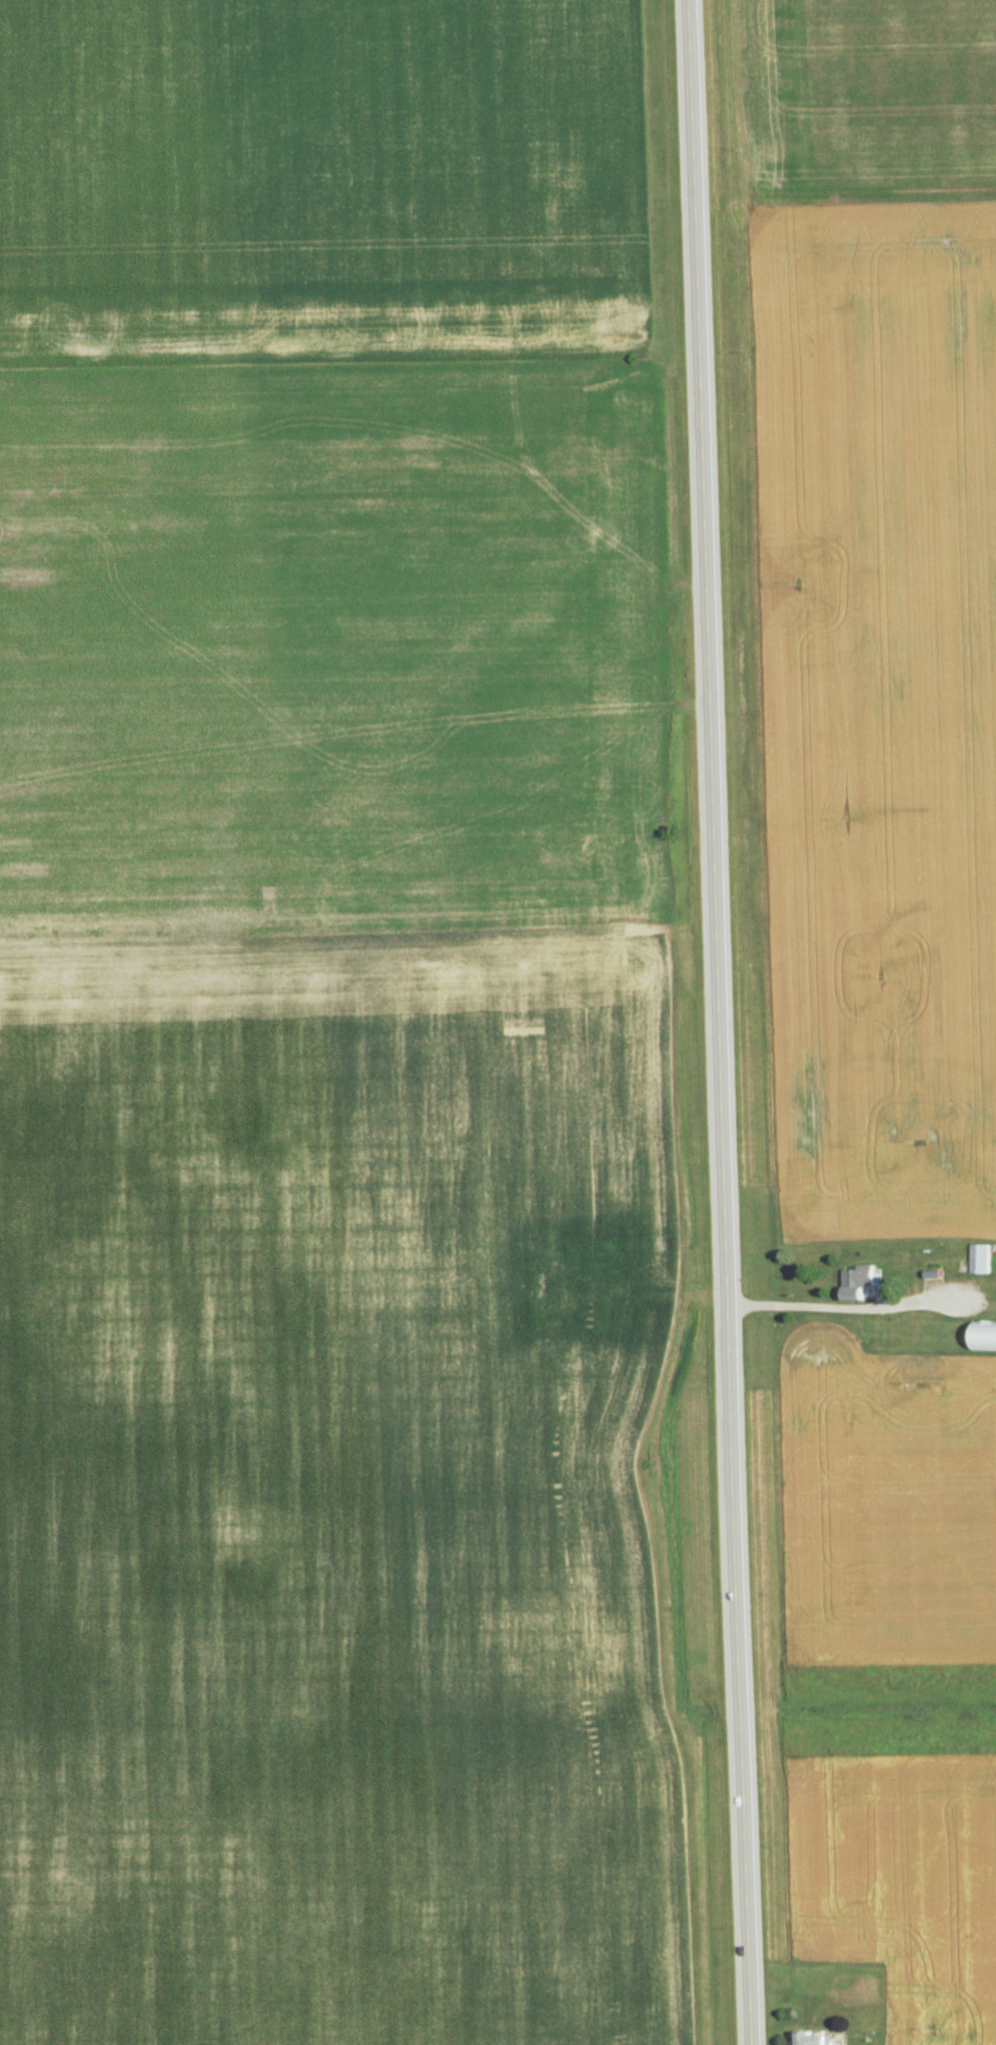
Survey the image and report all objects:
road: (714, 1022)
building: (978, 1259)
building: (858, 1278)
road: (841, 1308)
building: (812, 2039)

